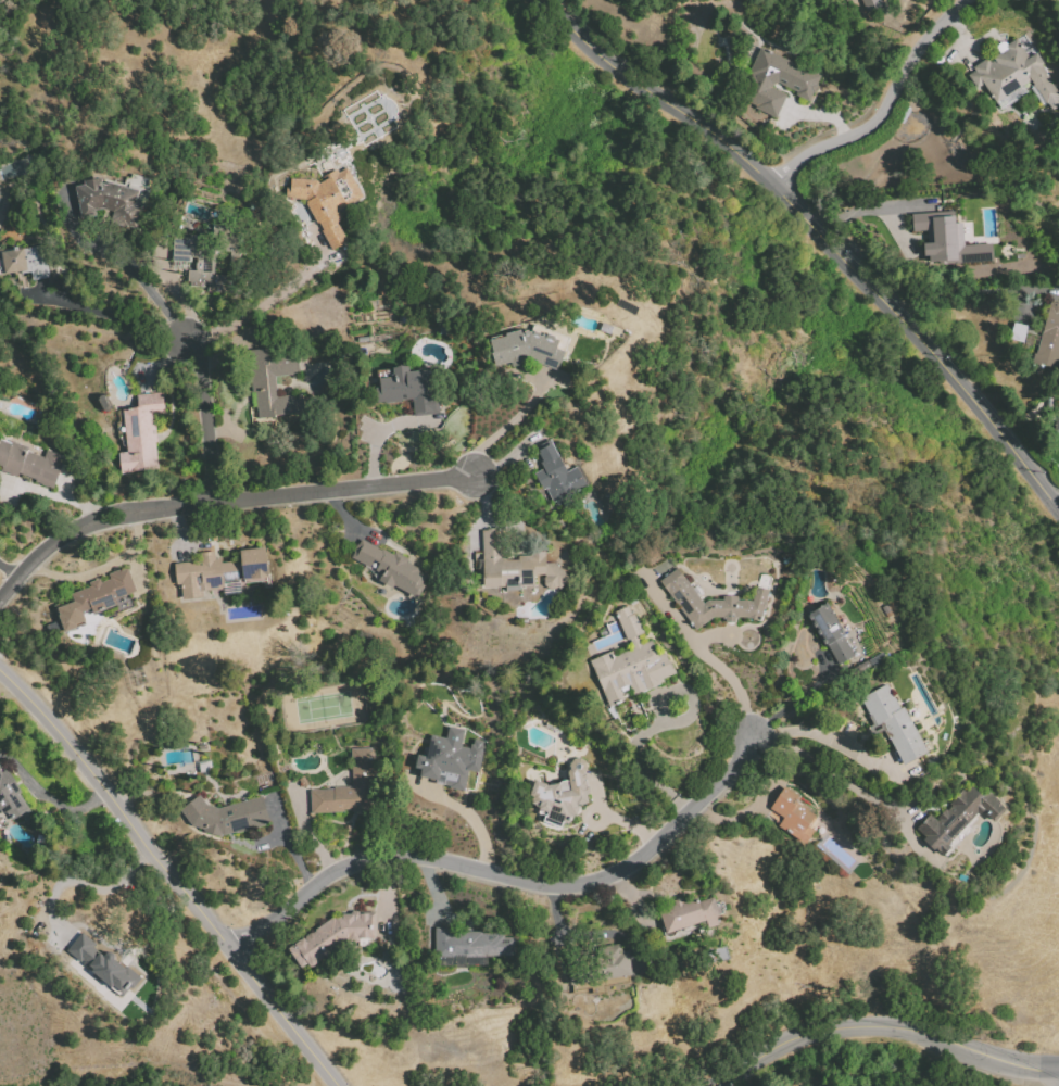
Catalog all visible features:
building: (870, 4)
building: (1012, 72)
building: (796, 83)
road: (883, 106)
road: (821, 114)
building: (108, 200)
building: (322, 211)
road: (821, 233)
building: (946, 239)
building: (30, 262)
building: (205, 264)
road: (148, 290)
road: (967, 292)
road: (176, 295)
road: (261, 304)
road: (119, 316)
building: (1049, 337)
building: (540, 346)
road: (160, 361)
building: (280, 384)
building: (413, 387)
building: (1057, 421)
road: (202, 425)
road: (504, 426)
building: (139, 432)
building: (30, 465)
building: (555, 473)
road: (220, 502)
road: (1057, 502)
building: (598, 509)
building: (515, 565)
building: (390, 568)
building: (220, 573)
building: (97, 599)
building: (710, 601)
building: (830, 632)
building: (629, 662)
road: (718, 670)
road: (682, 691)
road: (796, 698)
park: (322, 705)
building: (893, 722)
road: (829, 735)
building: (449, 758)
building: (190, 761)
road: (642, 762)
road: (825, 770)
road: (593, 790)
building: (352, 791)
building: (562, 794)
building: (11, 798)
road: (604, 813)
road: (742, 813)
building: (791, 815)
building: (957, 817)
building: (227, 818)
road: (472, 821)
road: (632, 824)
road: (304, 832)
road: (288, 844)
road: (913, 846)
road: (172, 873)
road: (508, 879)
road: (434, 889)
road: (625, 889)
building: (688, 912)
building: (338, 936)
road: (563, 937)
building: (470, 943)
building: (614, 961)
building: (105, 968)
road: (879, 1024)

